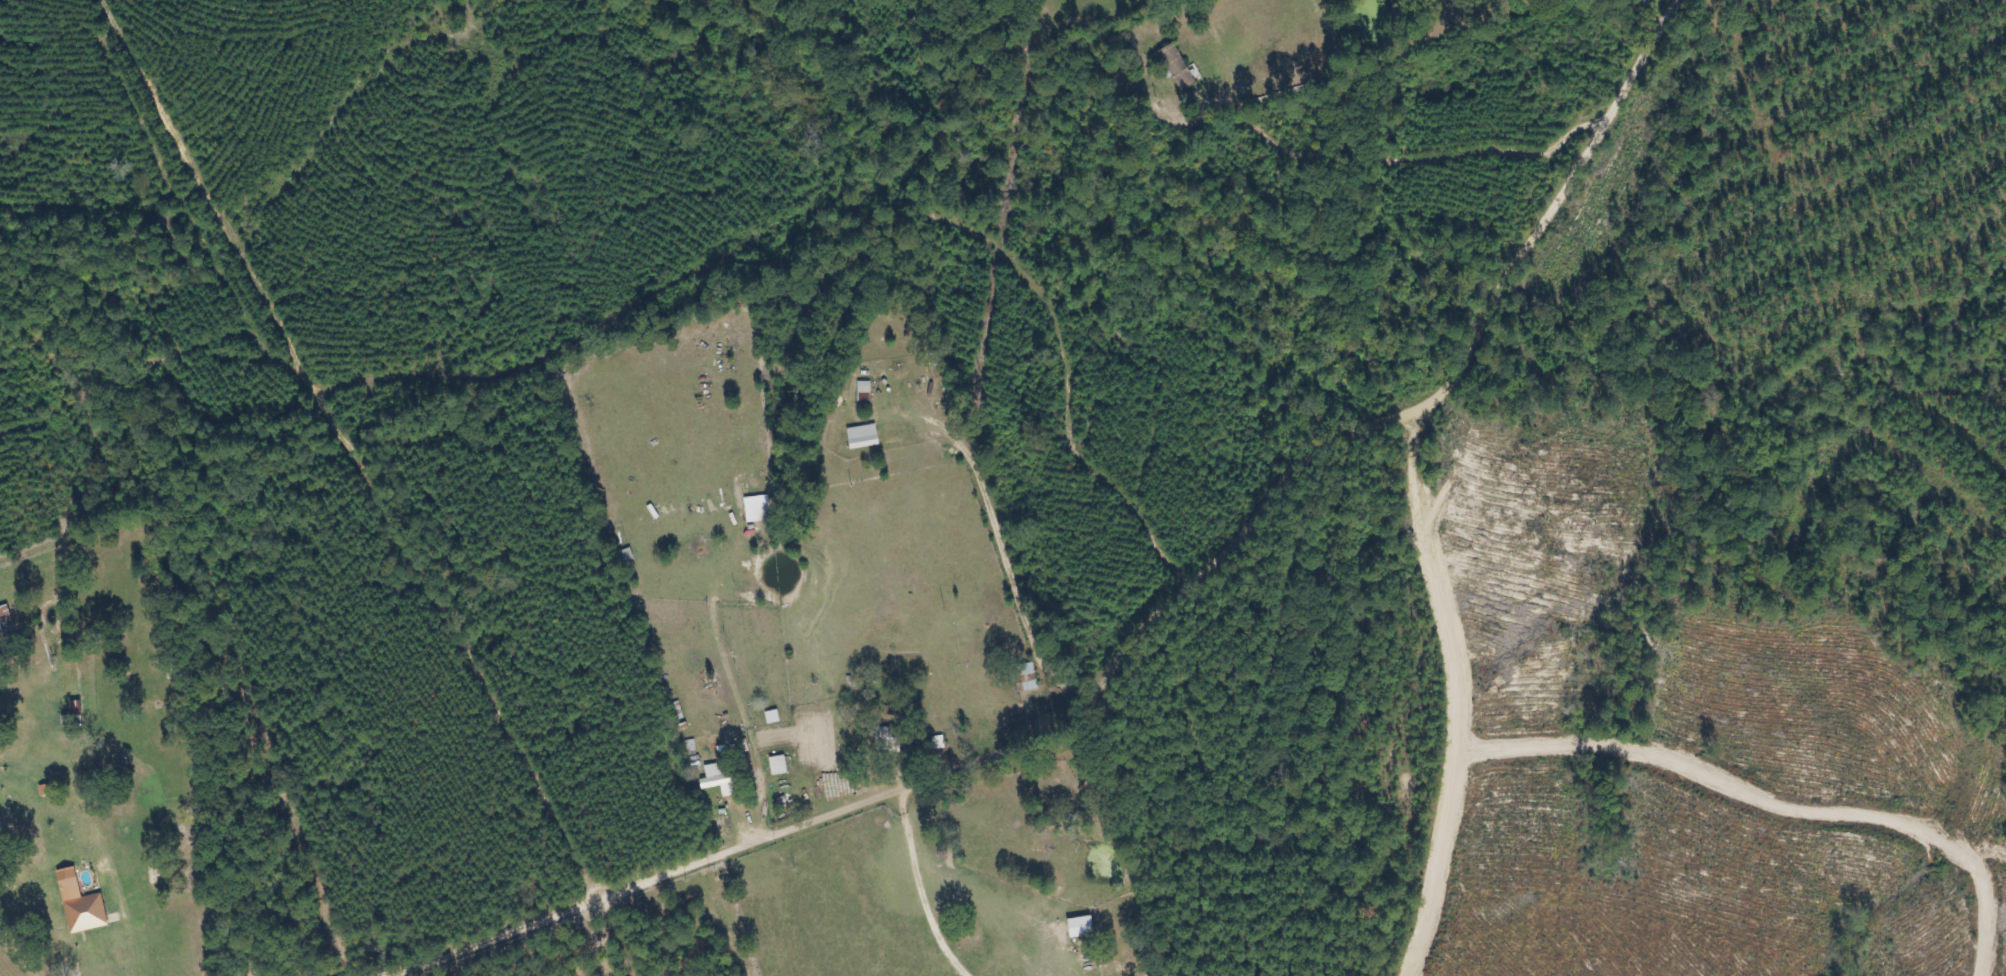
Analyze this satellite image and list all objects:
building: (1177, 67)
building: (863, 437)
building: (757, 509)
road: (1136, 630)
building: (0, 633)
road: (1452, 696)
building: (885, 738)
building: (778, 765)
building: (721, 778)
building: (45, 790)
road: (1772, 803)
building: (80, 904)
building: (1080, 926)

